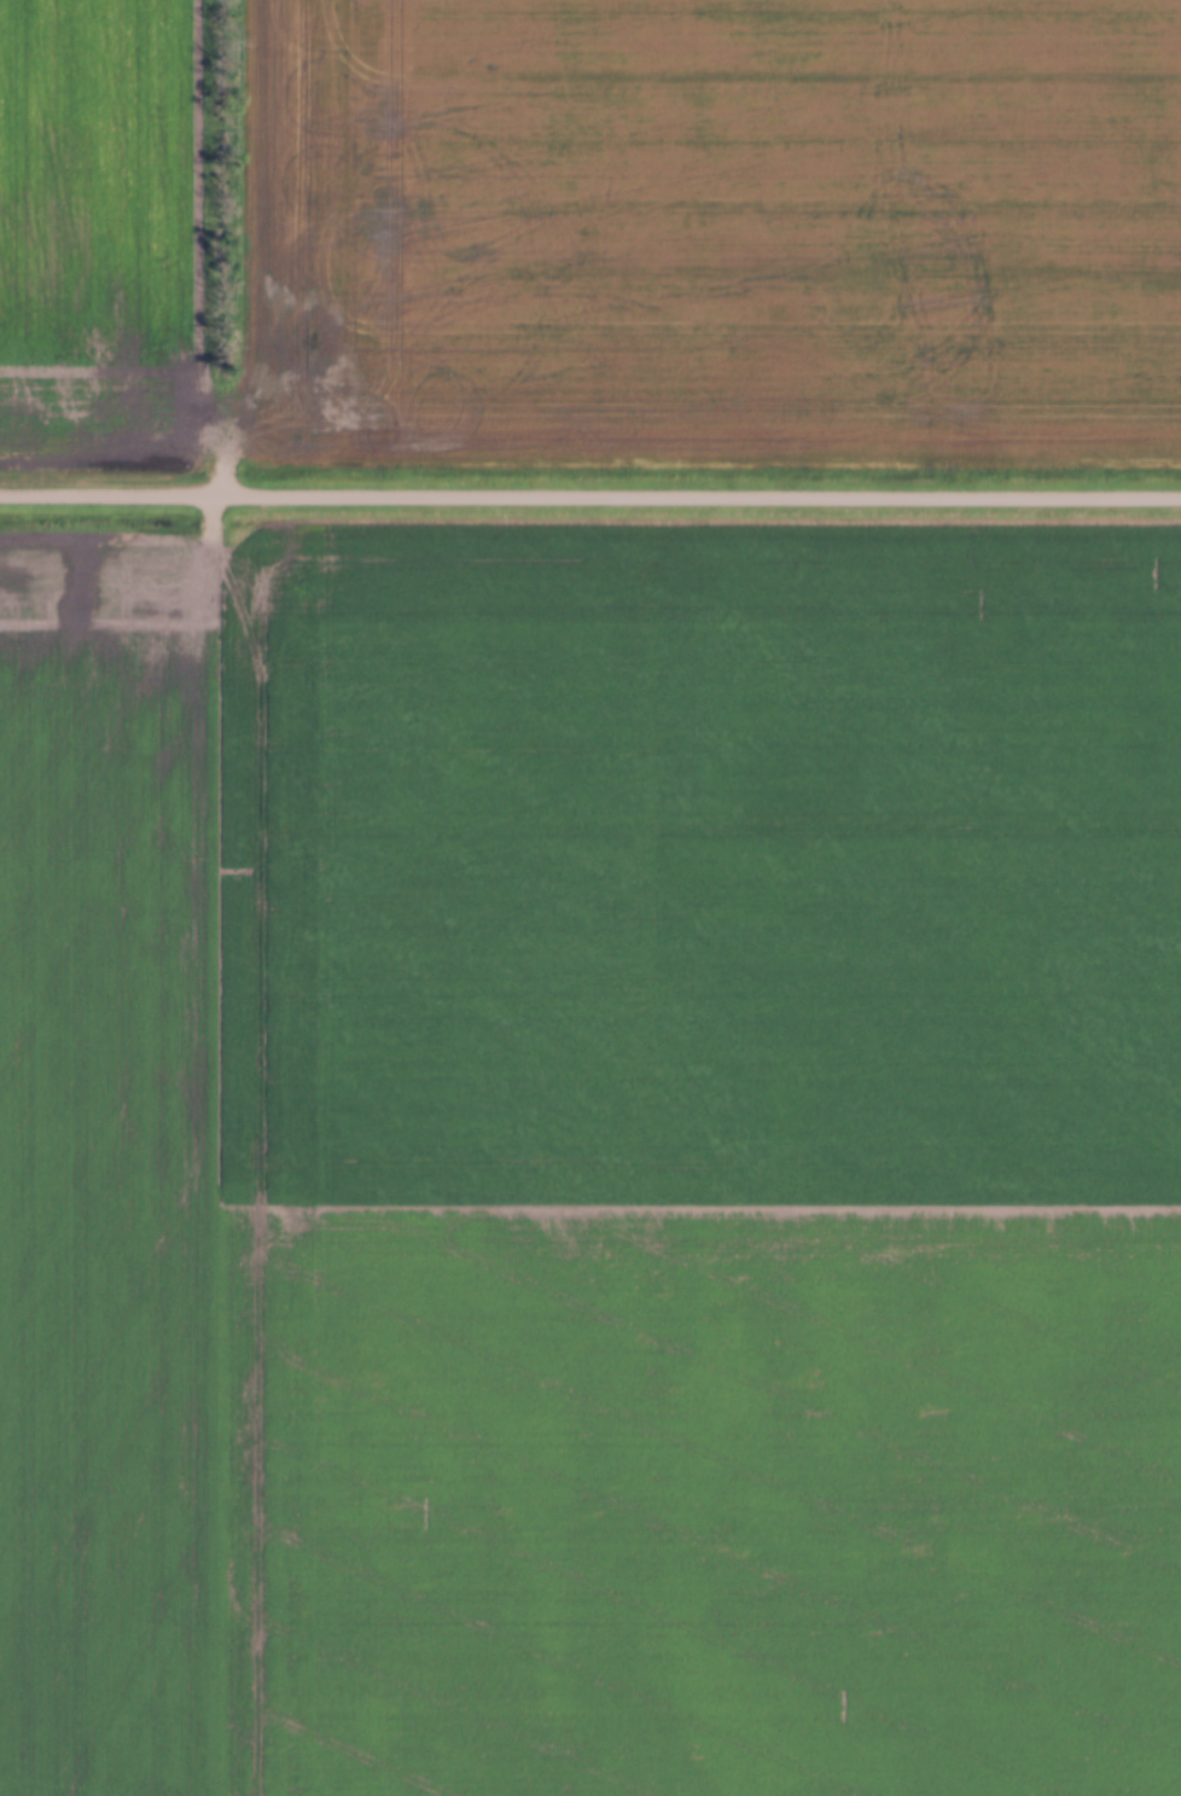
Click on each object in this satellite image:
road: (589, 495)

